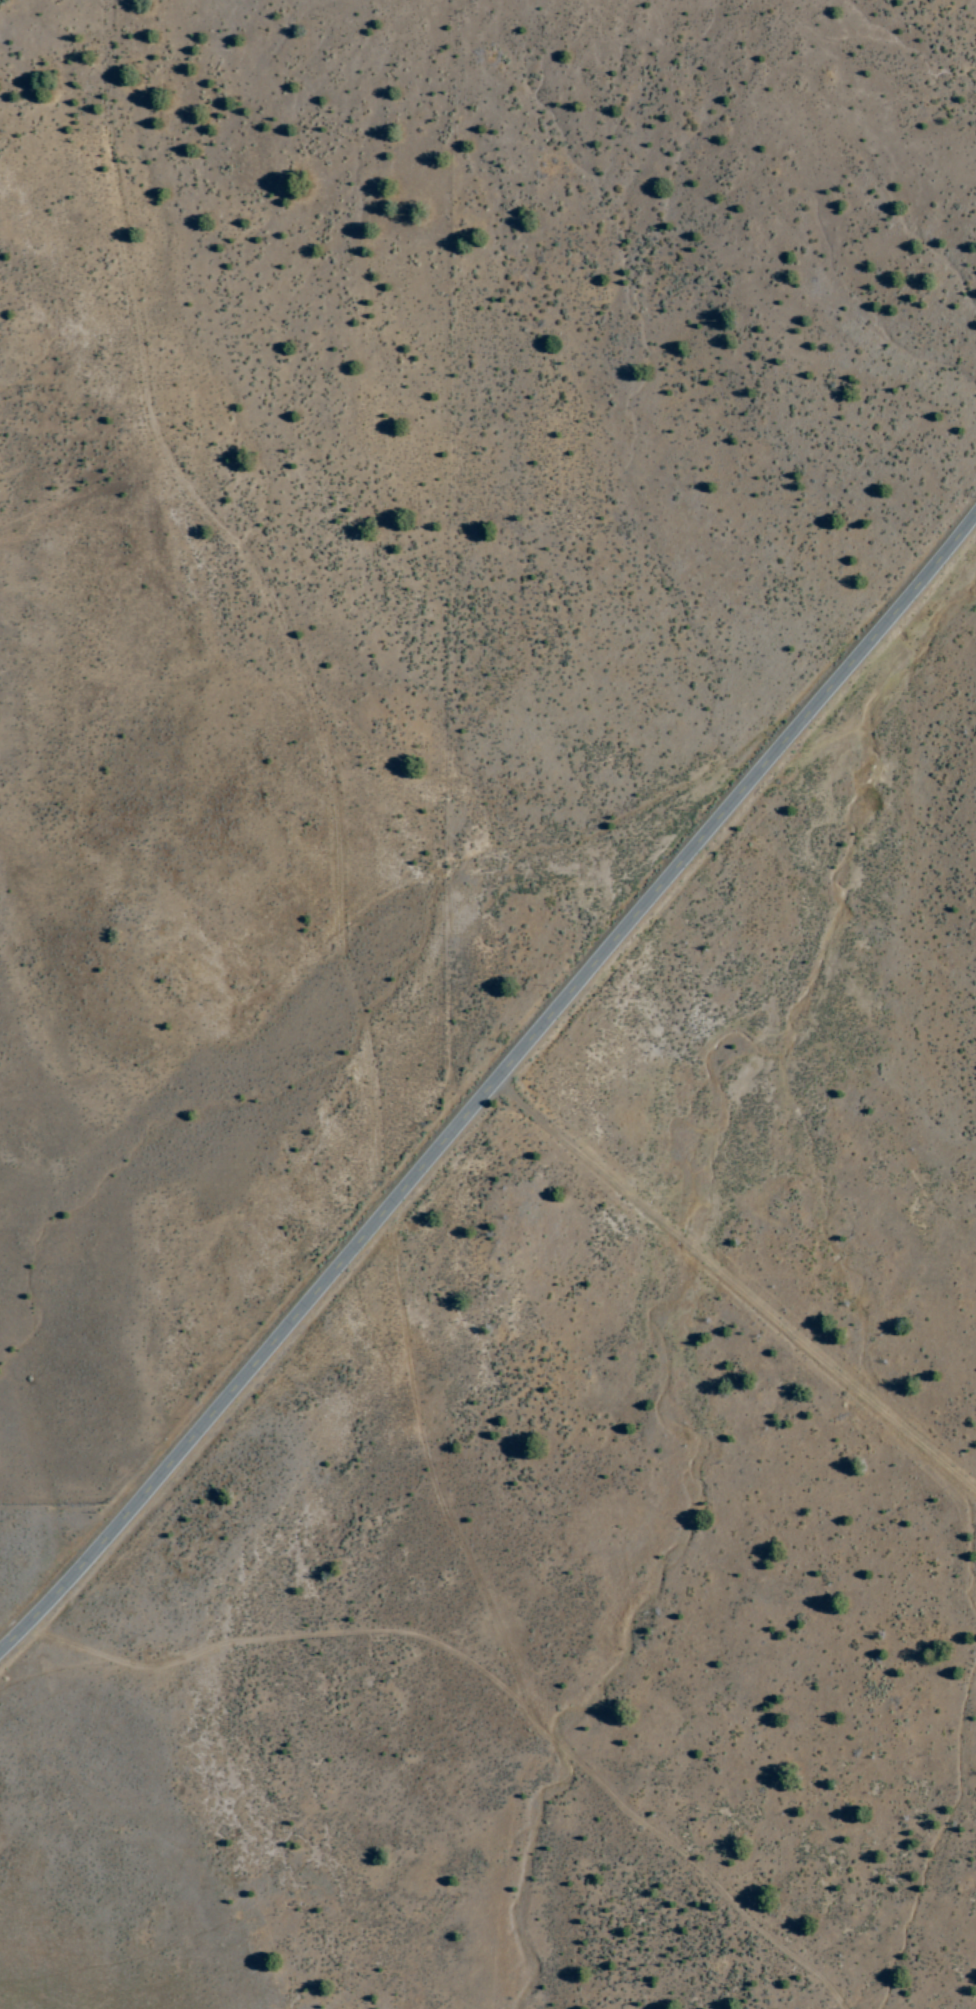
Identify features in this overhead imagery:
road: (490, 1092)
road: (429, 1451)
road: (482, 1672)

